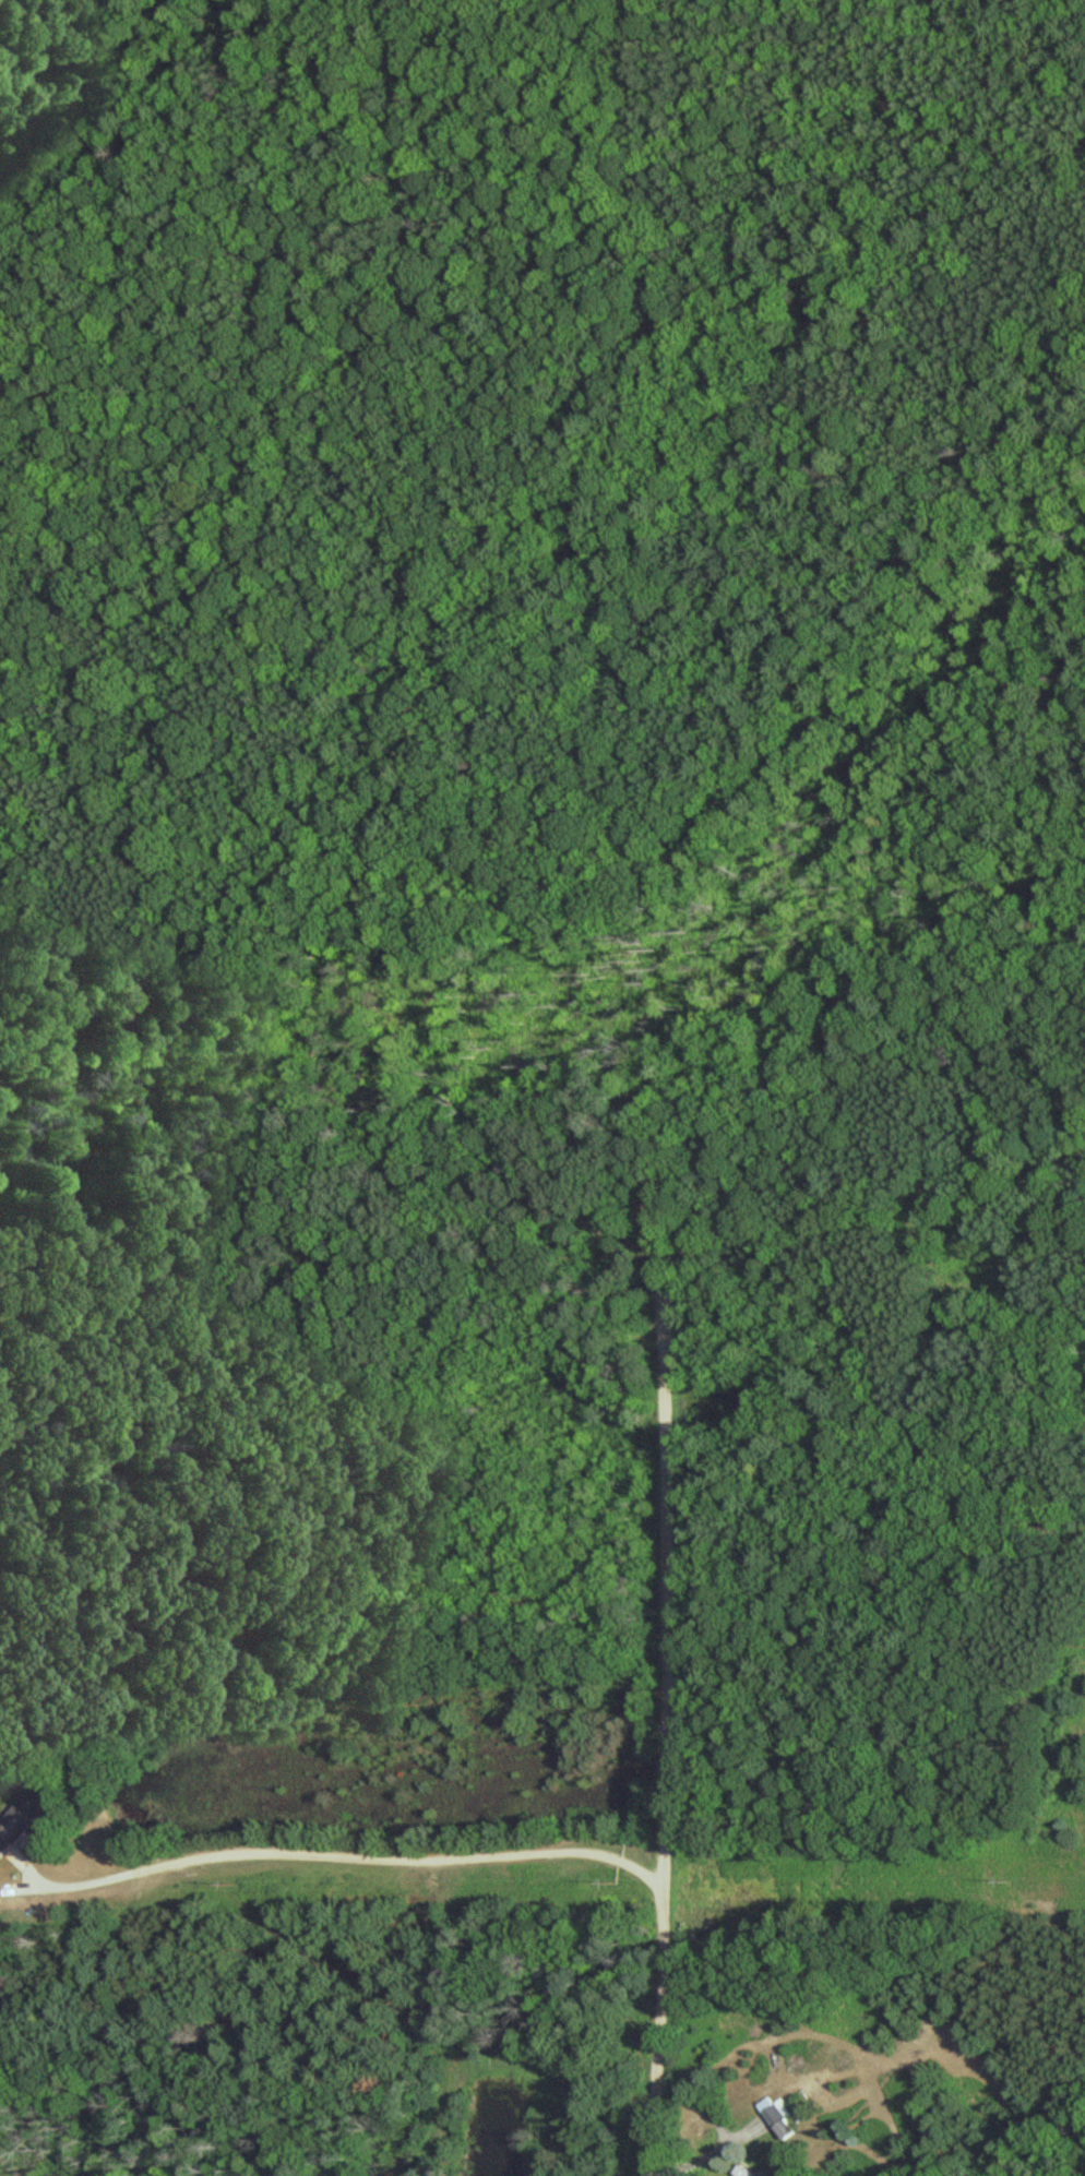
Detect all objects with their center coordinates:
road: (664, 1714)
building: (21, 1821)
road: (341, 1855)
building: (775, 2119)

